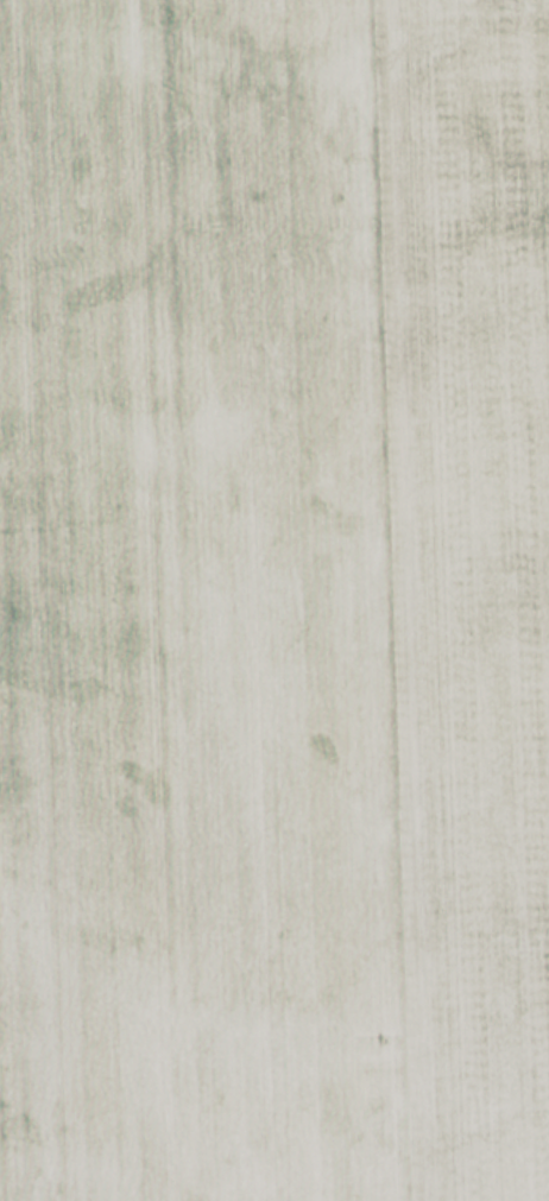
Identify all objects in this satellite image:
crop: (274, 600)

